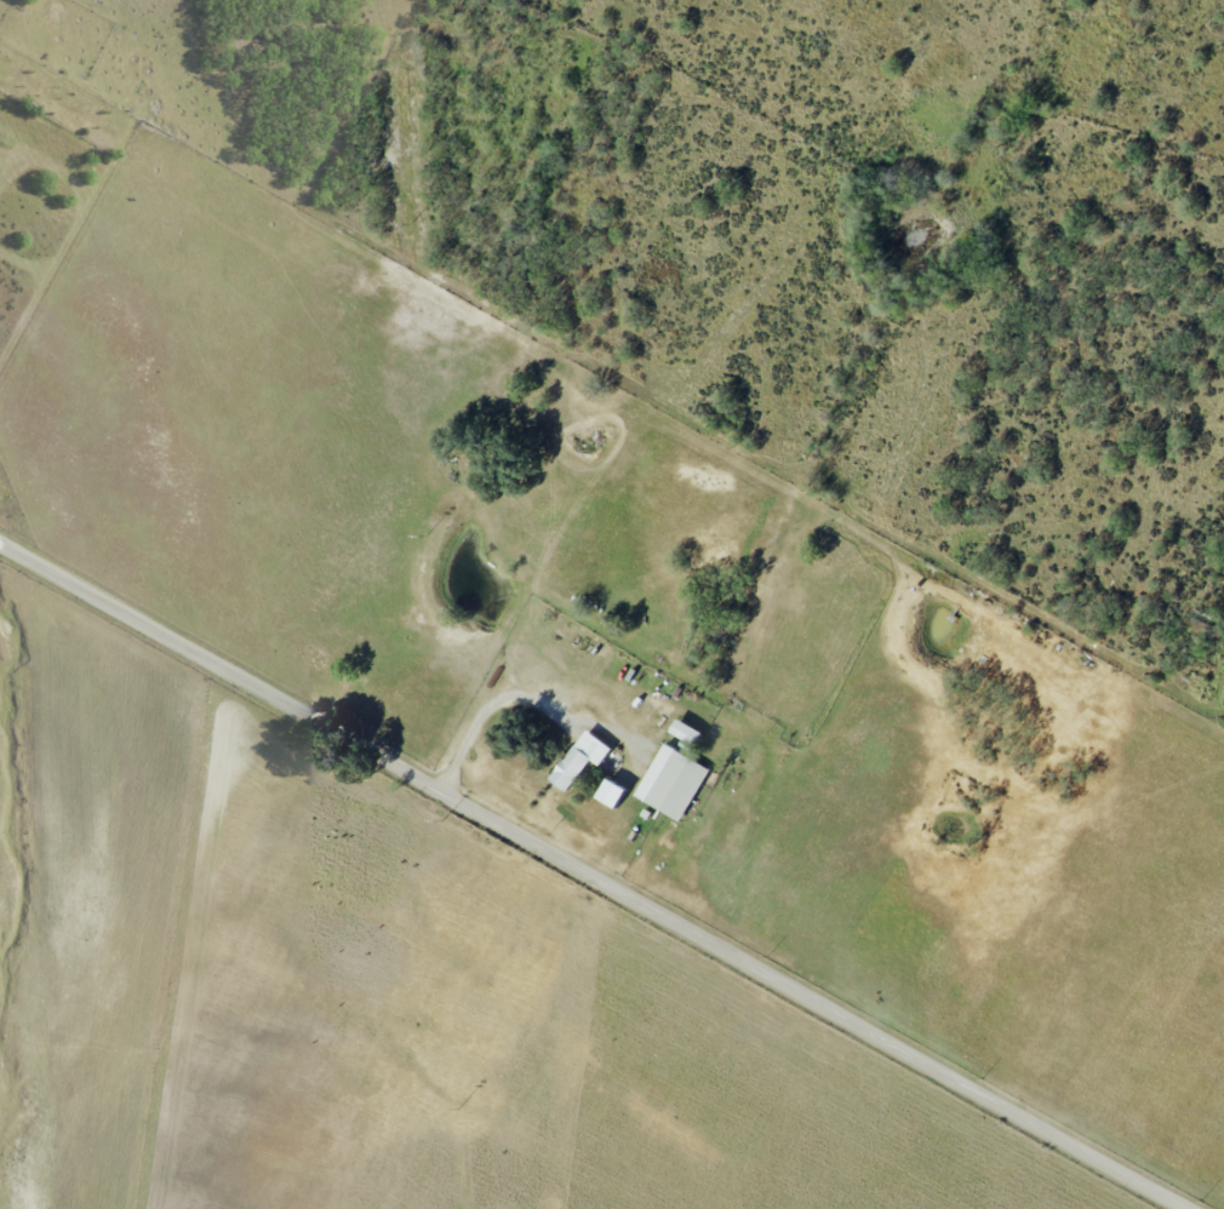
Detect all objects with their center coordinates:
power tower: (416, 220)
power tower: (435, 531)
building: (685, 732)
building: (580, 758)
building: (673, 781)
building: (611, 793)
power tower: (451, 815)
road: (600, 866)
power tower: (464, 1105)

